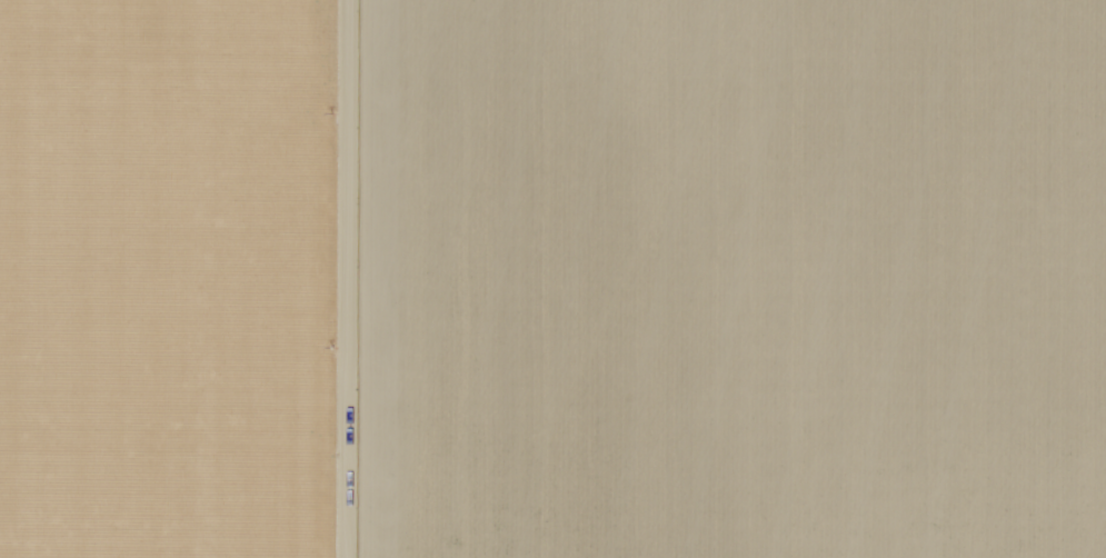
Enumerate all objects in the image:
crop: (158, 278)
road: (361, 279)
crop: (711, 279)

